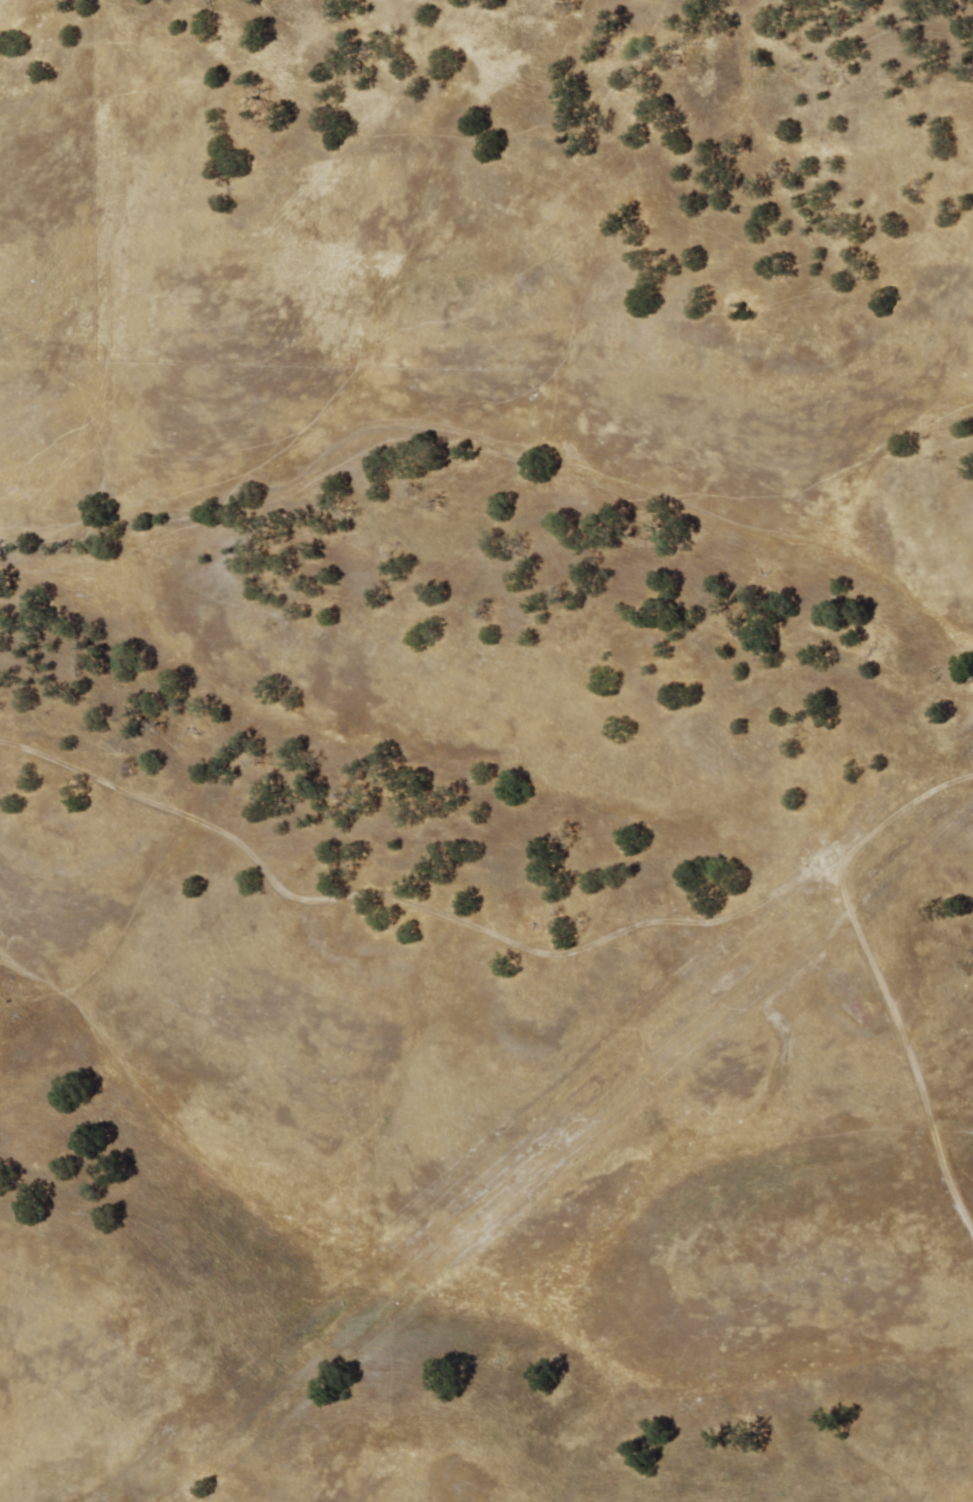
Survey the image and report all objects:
road: (413, 907)
road: (880, 976)

